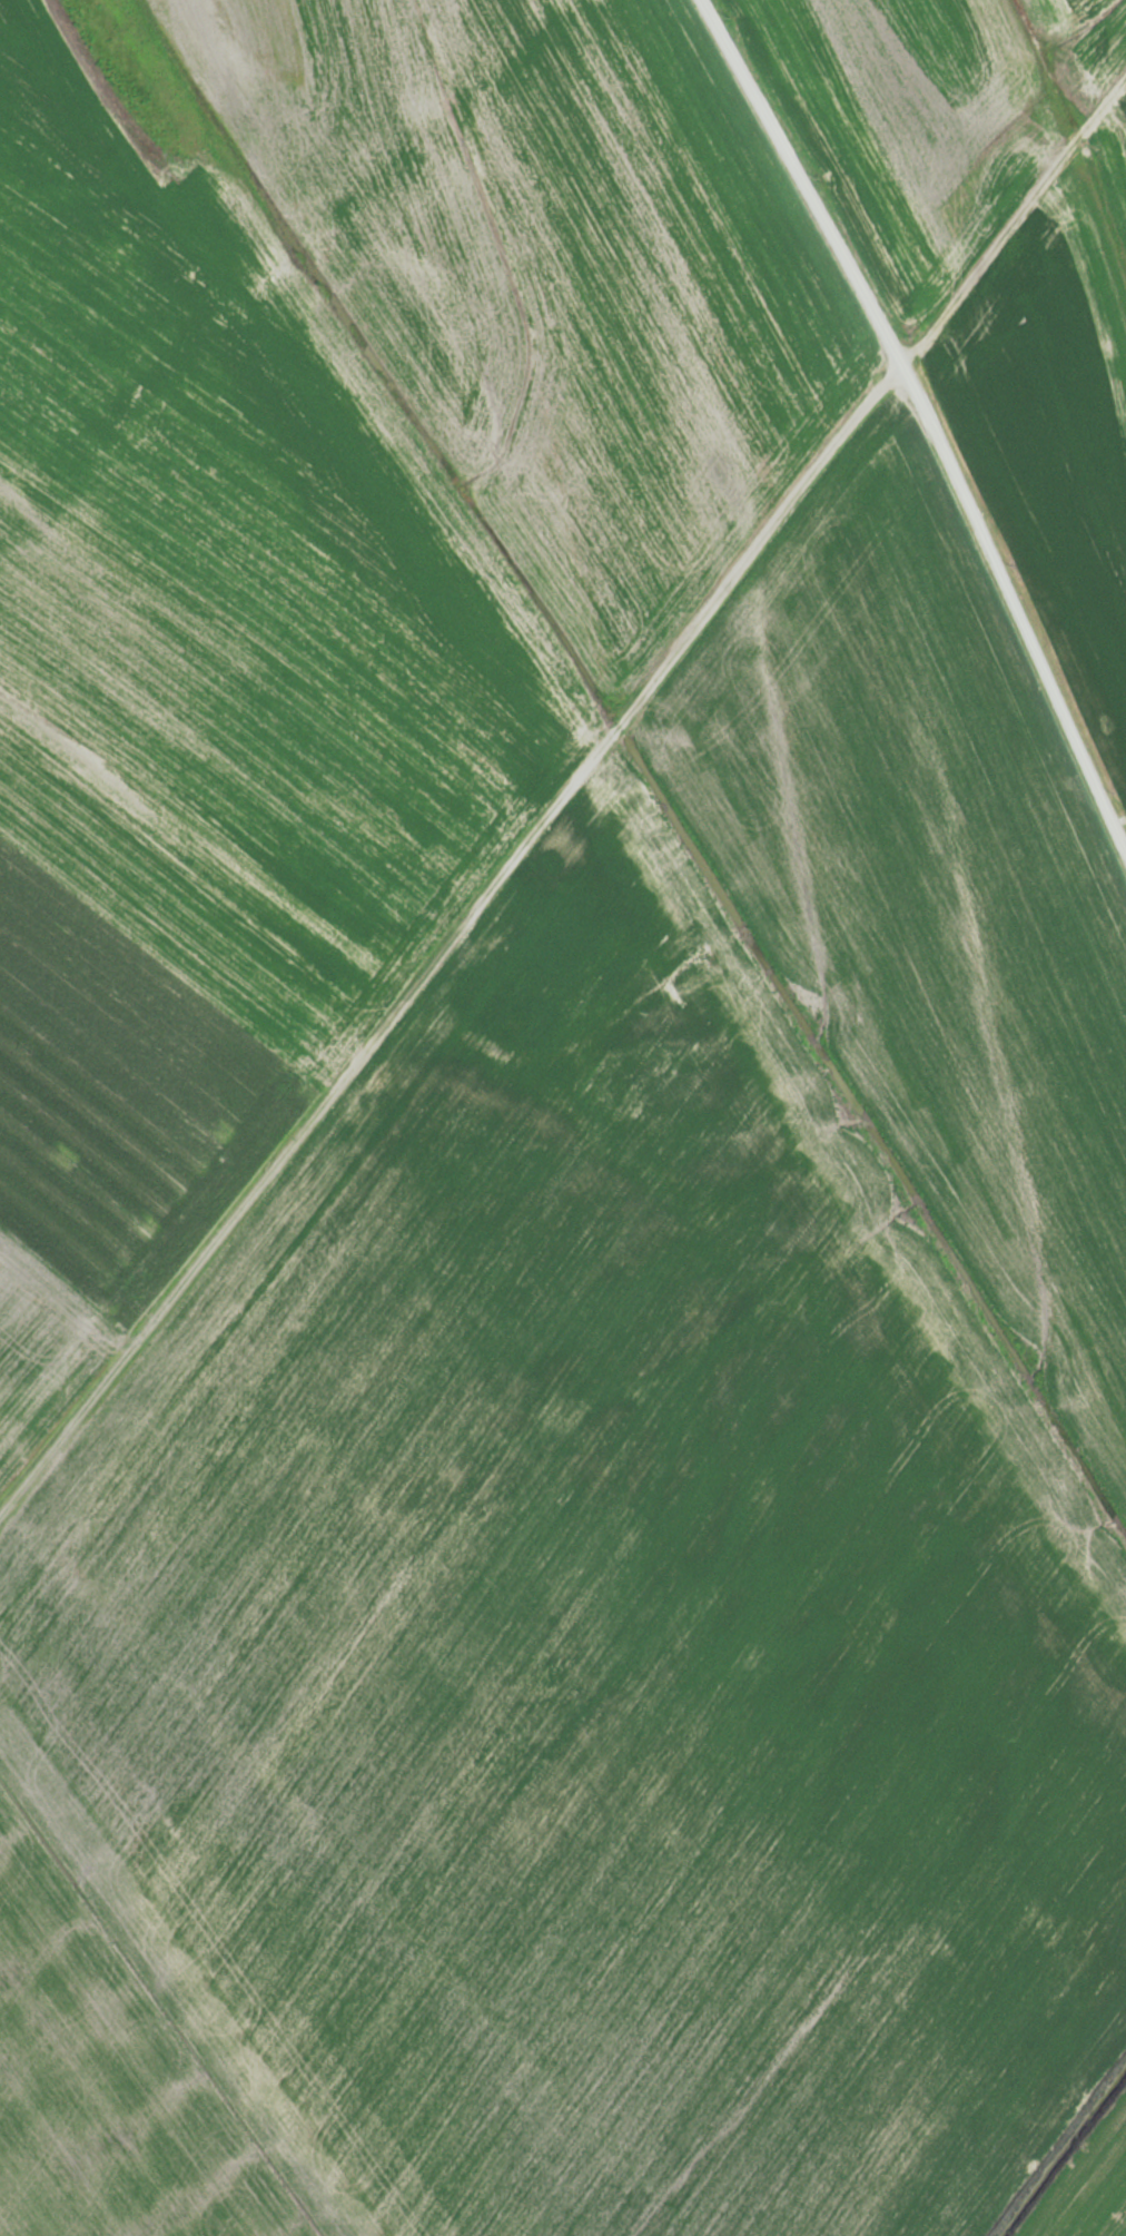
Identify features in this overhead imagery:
road: (1017, 219)
road: (930, 417)
road: (451, 934)

